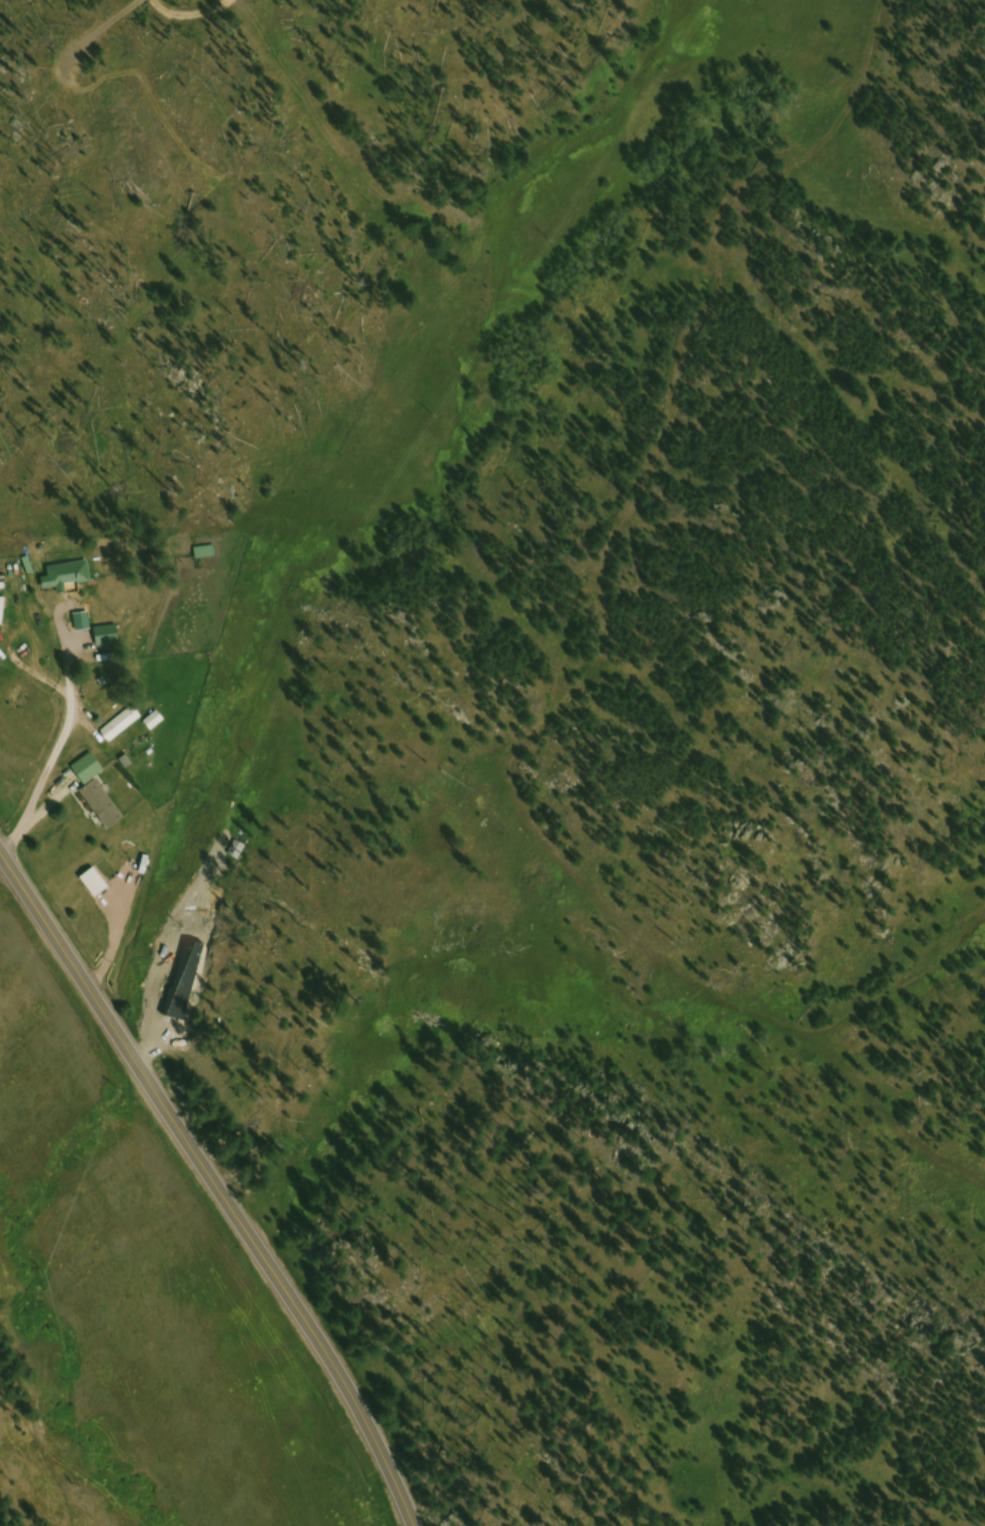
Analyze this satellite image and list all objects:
building: (207, 556)
building: (70, 579)
building: (4, 614)
building: (109, 635)
building: (157, 724)
building: (124, 727)
building: (100, 793)
building: (181, 1001)
road: (216, 1183)

